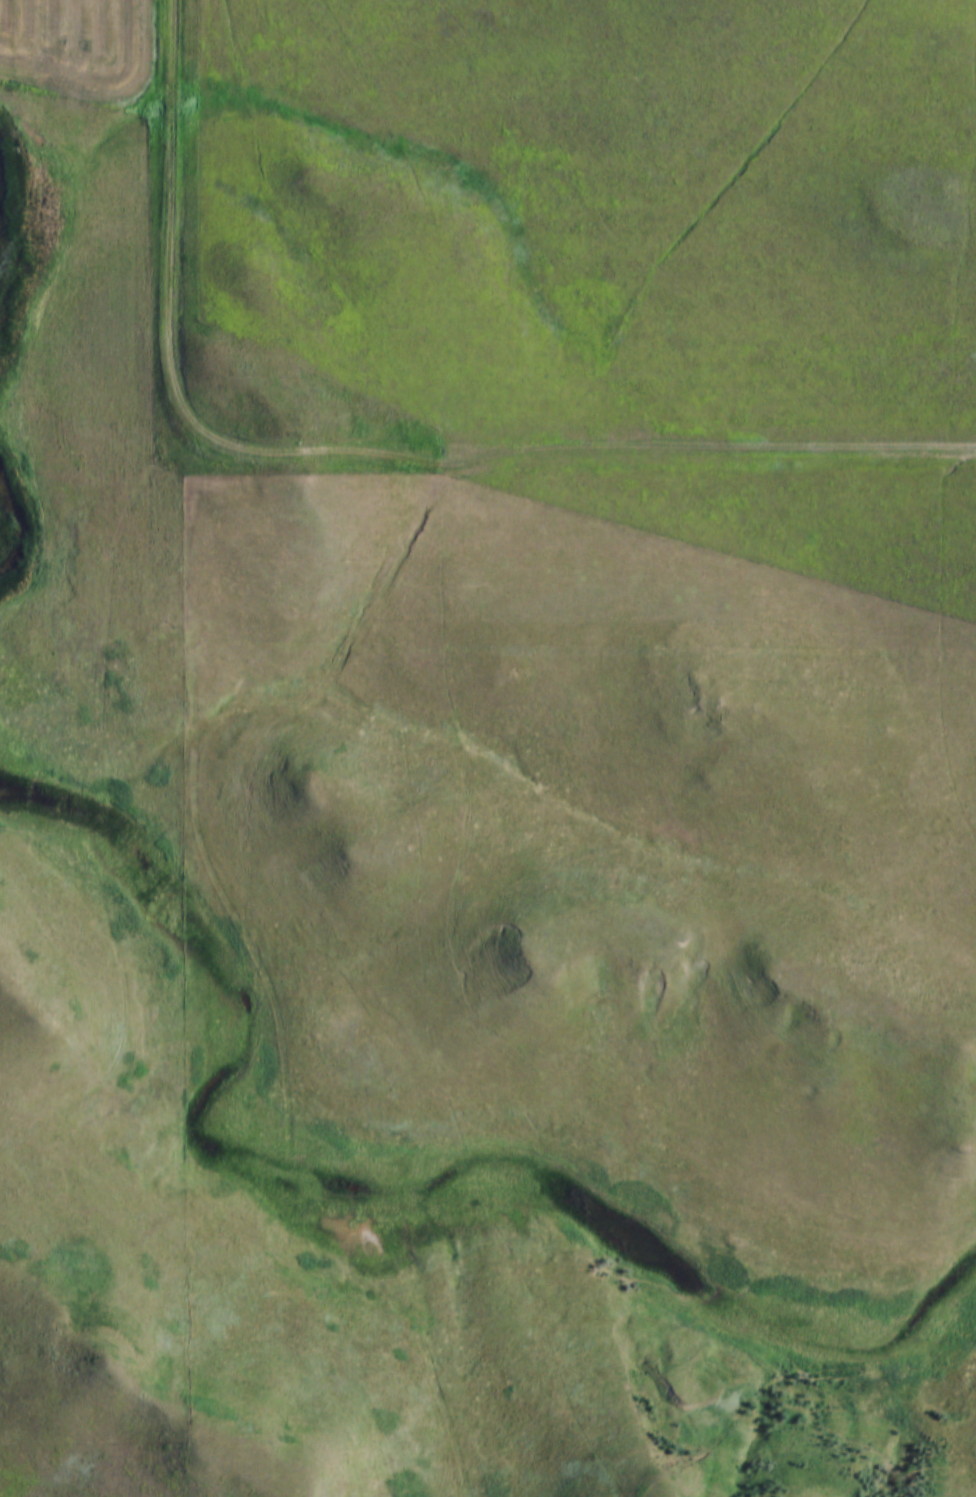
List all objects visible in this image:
road: (365, 455)

